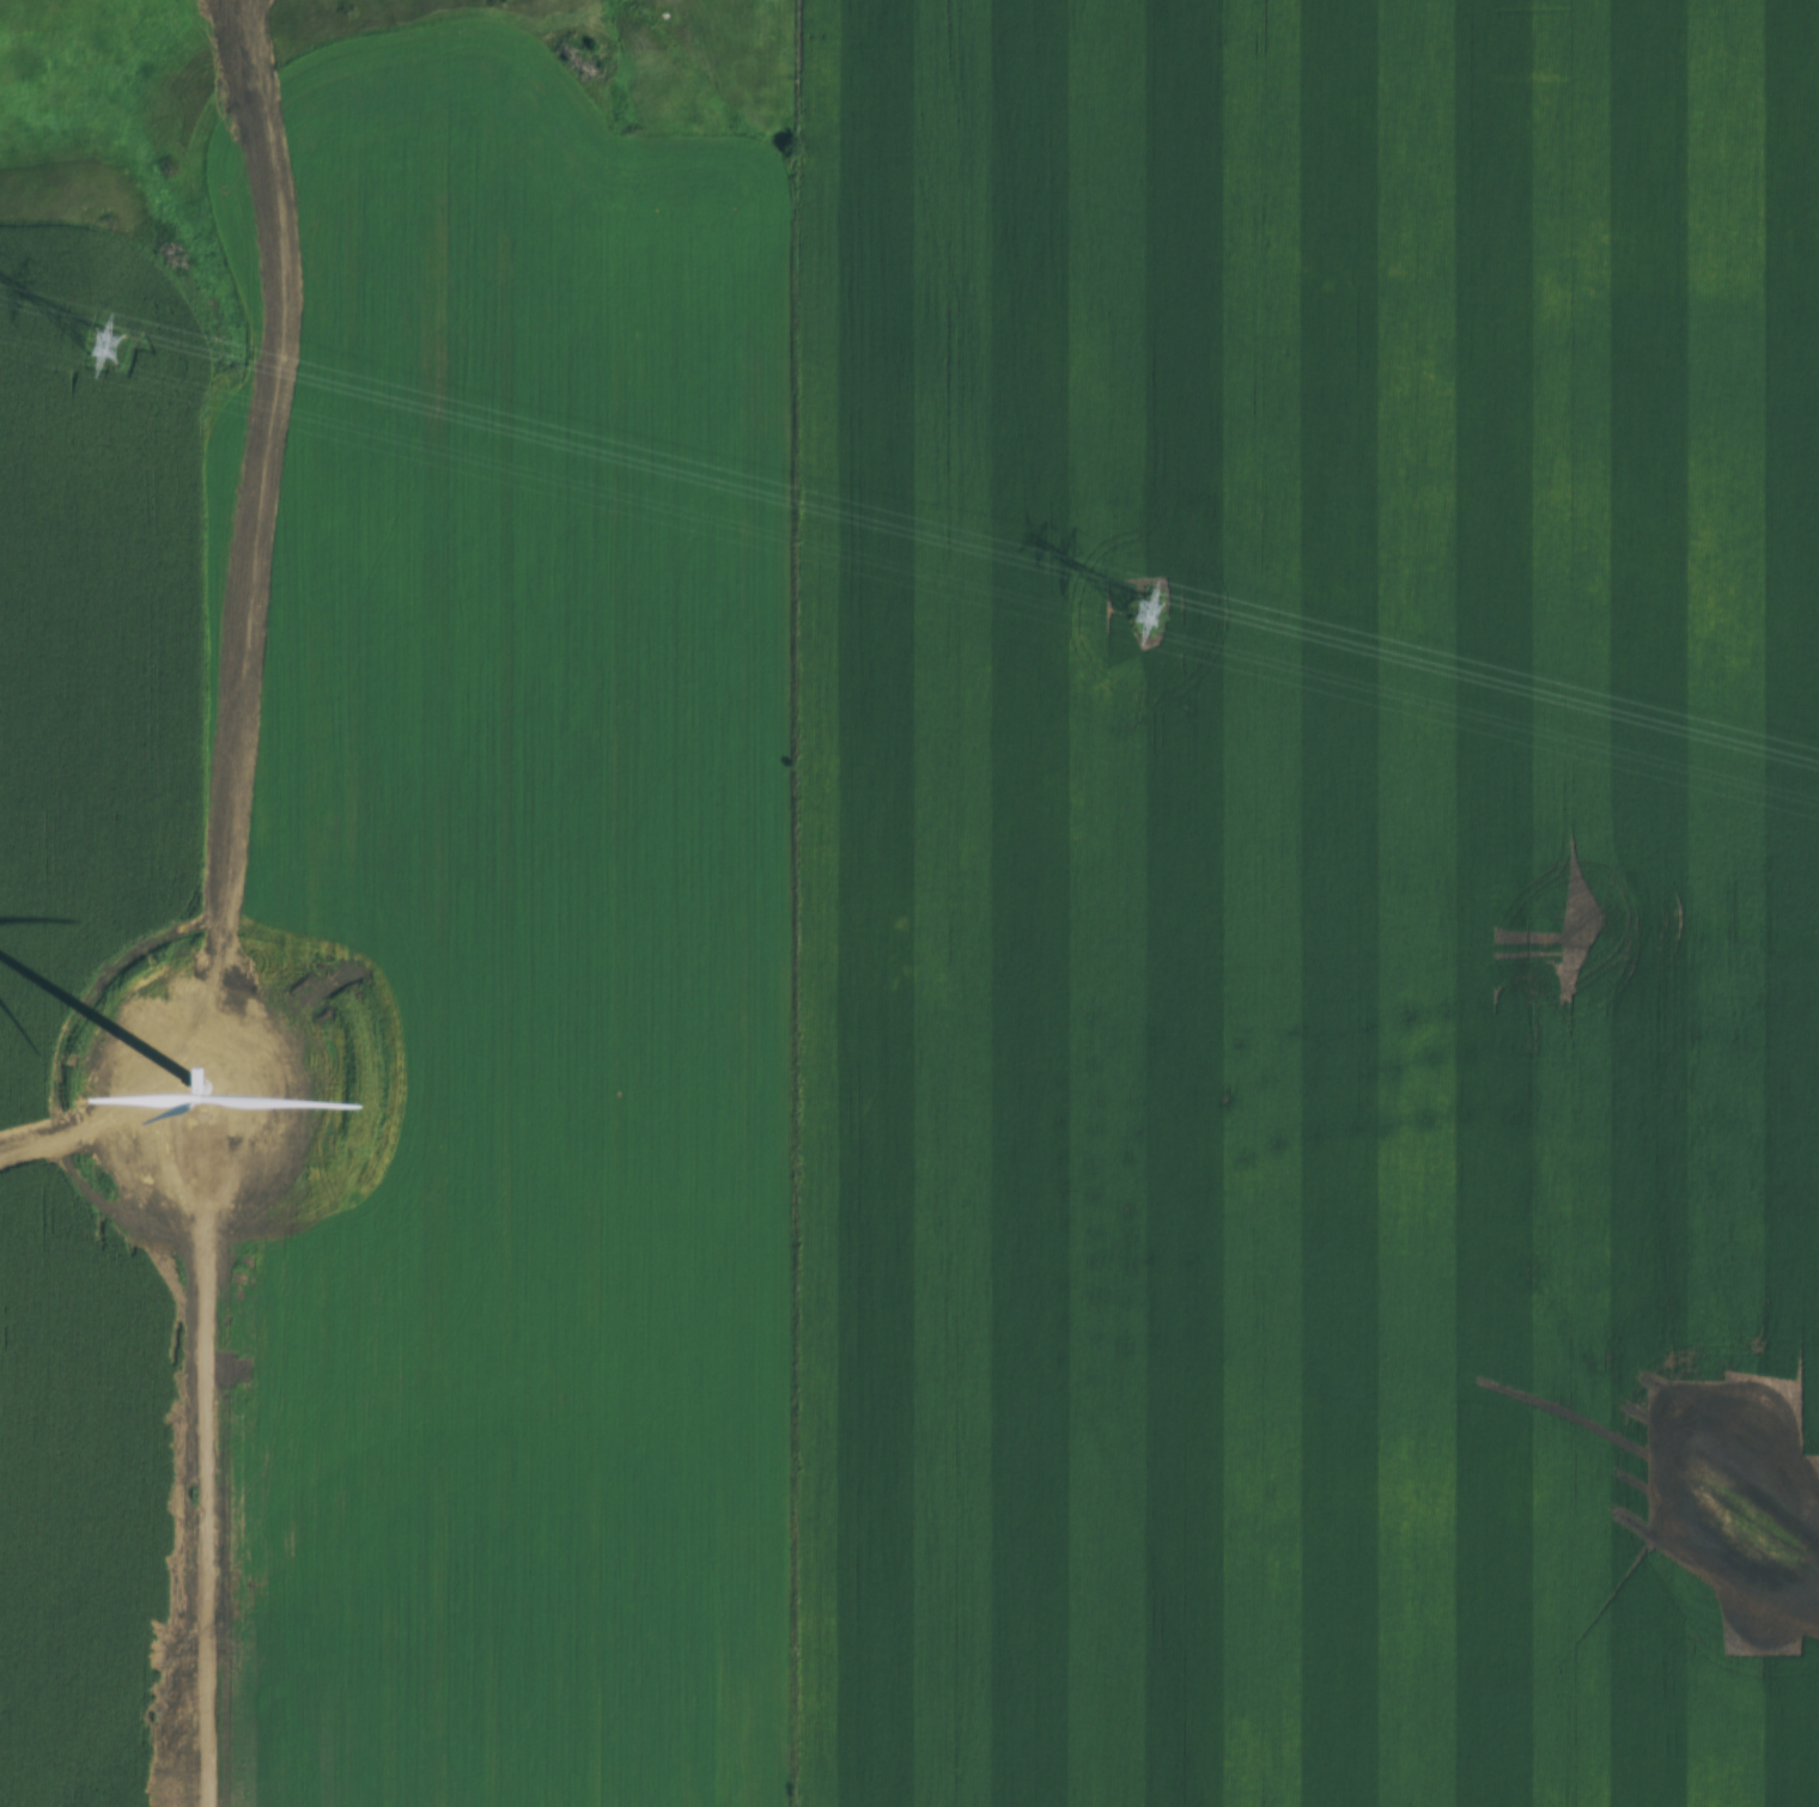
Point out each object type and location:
power tower: (102, 342)
power tower: (1146, 614)
wind turbine: (196, 1094)

